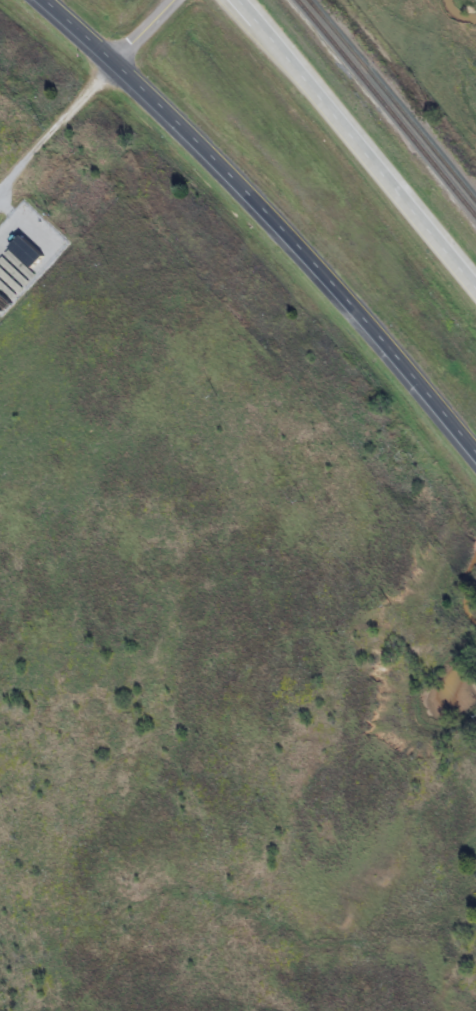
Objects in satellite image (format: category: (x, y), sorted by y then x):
road: (144, 28)
railway: (393, 99)
railway: (384, 109)
road: (361, 134)
road: (275, 213)
building: (26, 251)

